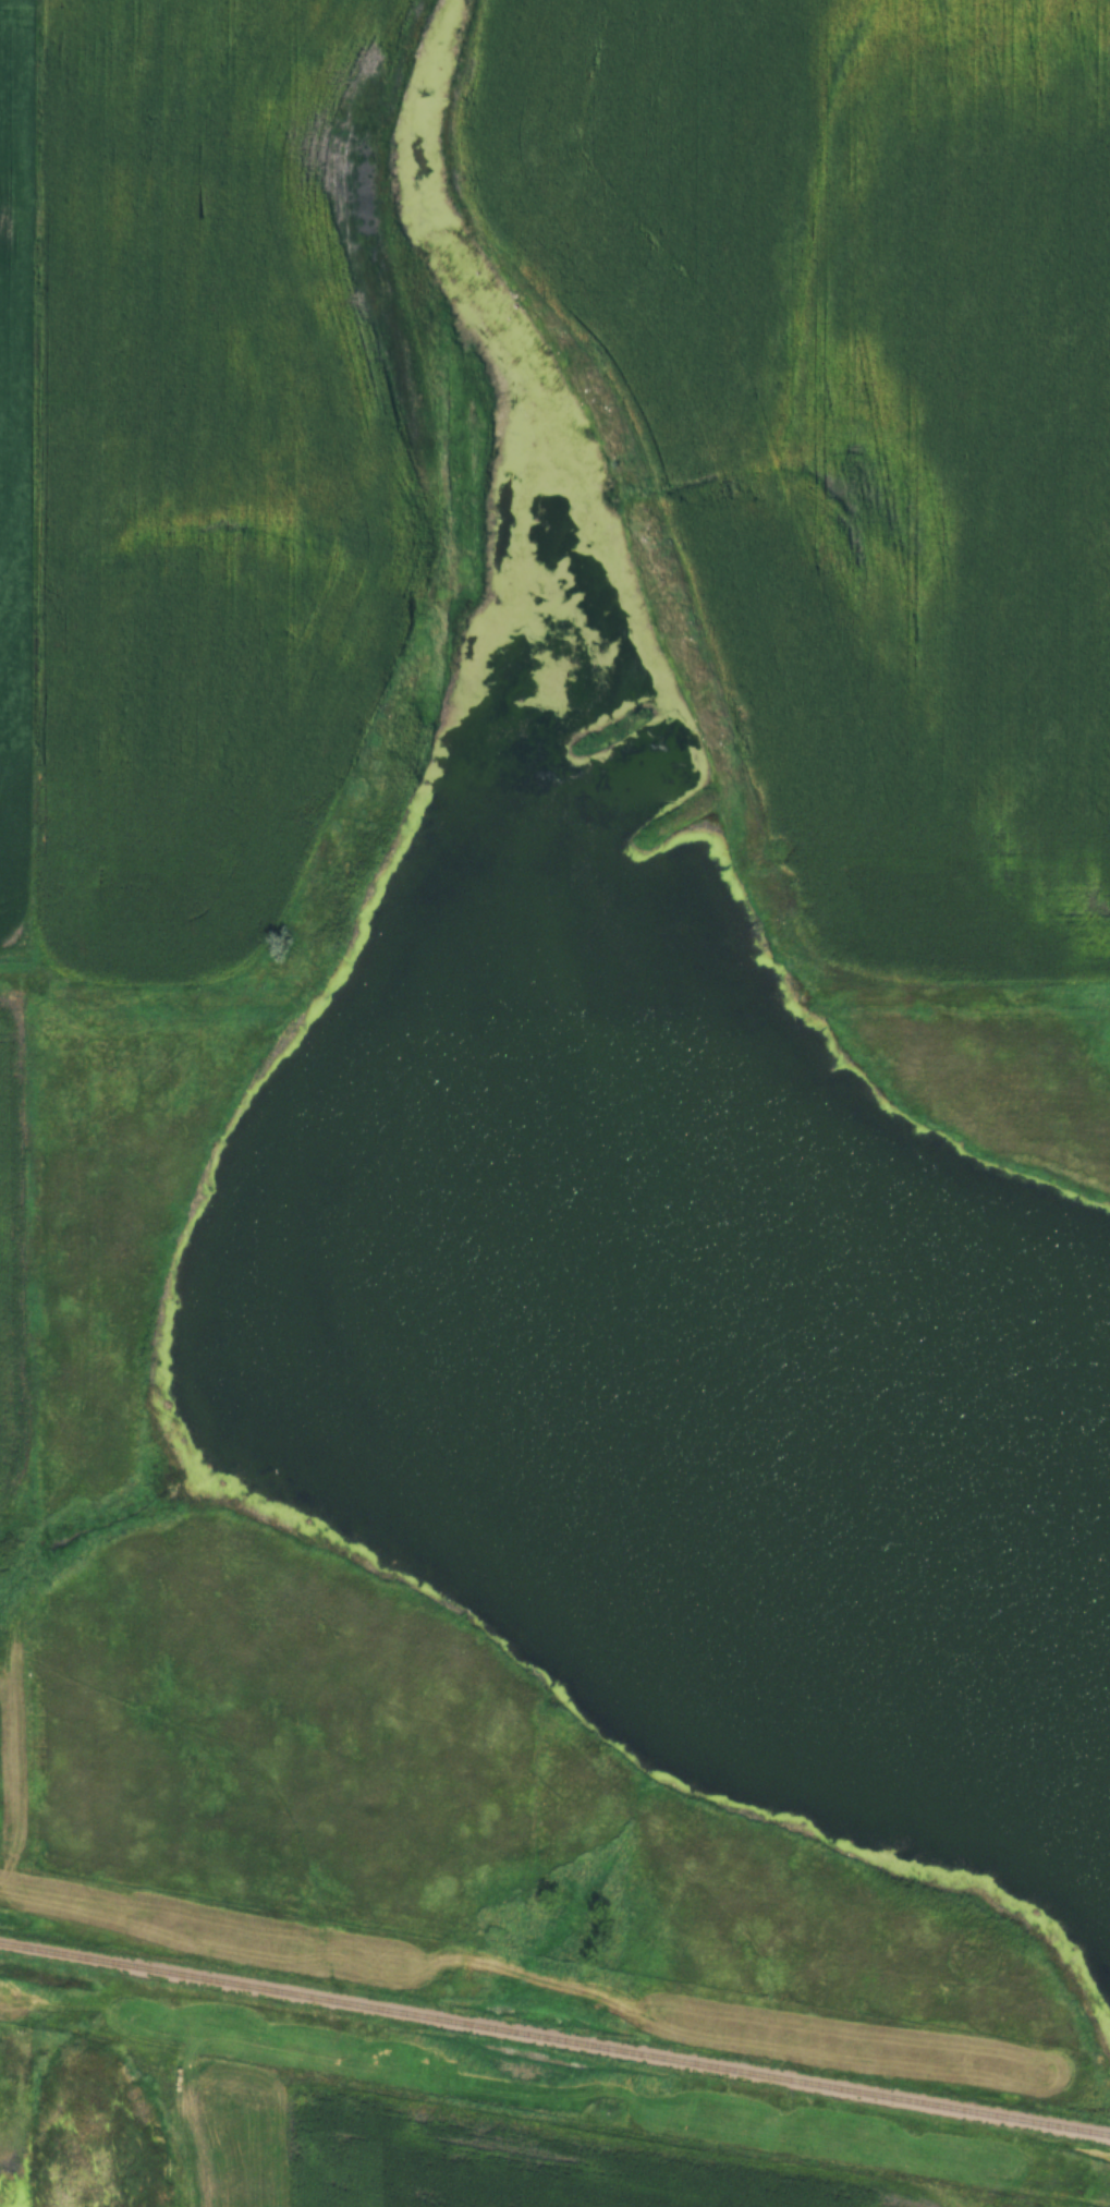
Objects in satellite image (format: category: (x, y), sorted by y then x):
railway: (554, 2038)

